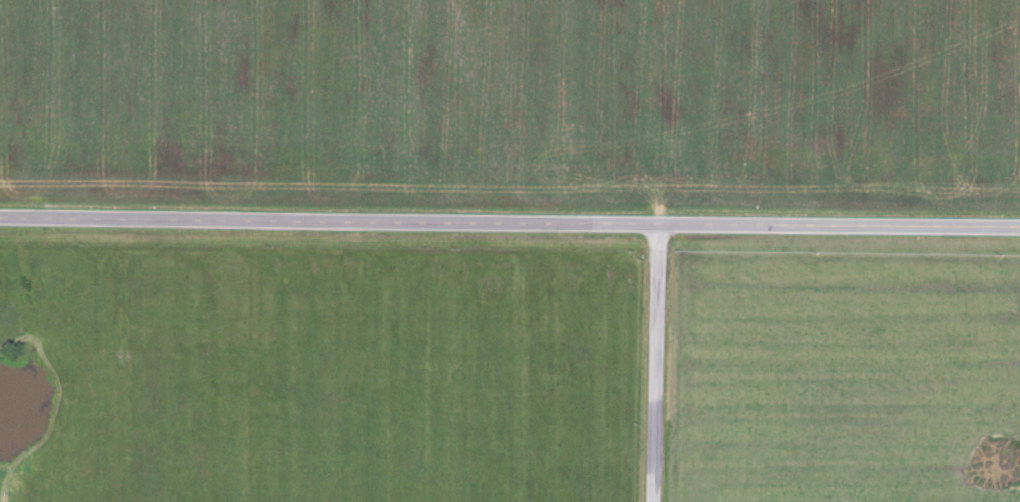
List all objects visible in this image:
road: (510, 222)
road: (652, 363)

